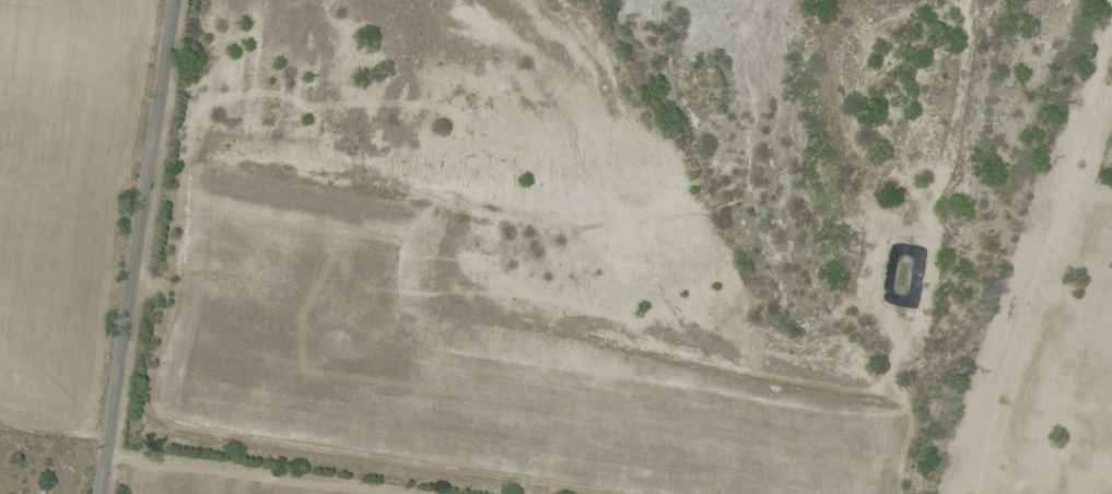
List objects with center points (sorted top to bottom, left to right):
road: (137, 247)
road: (1034, 258)

